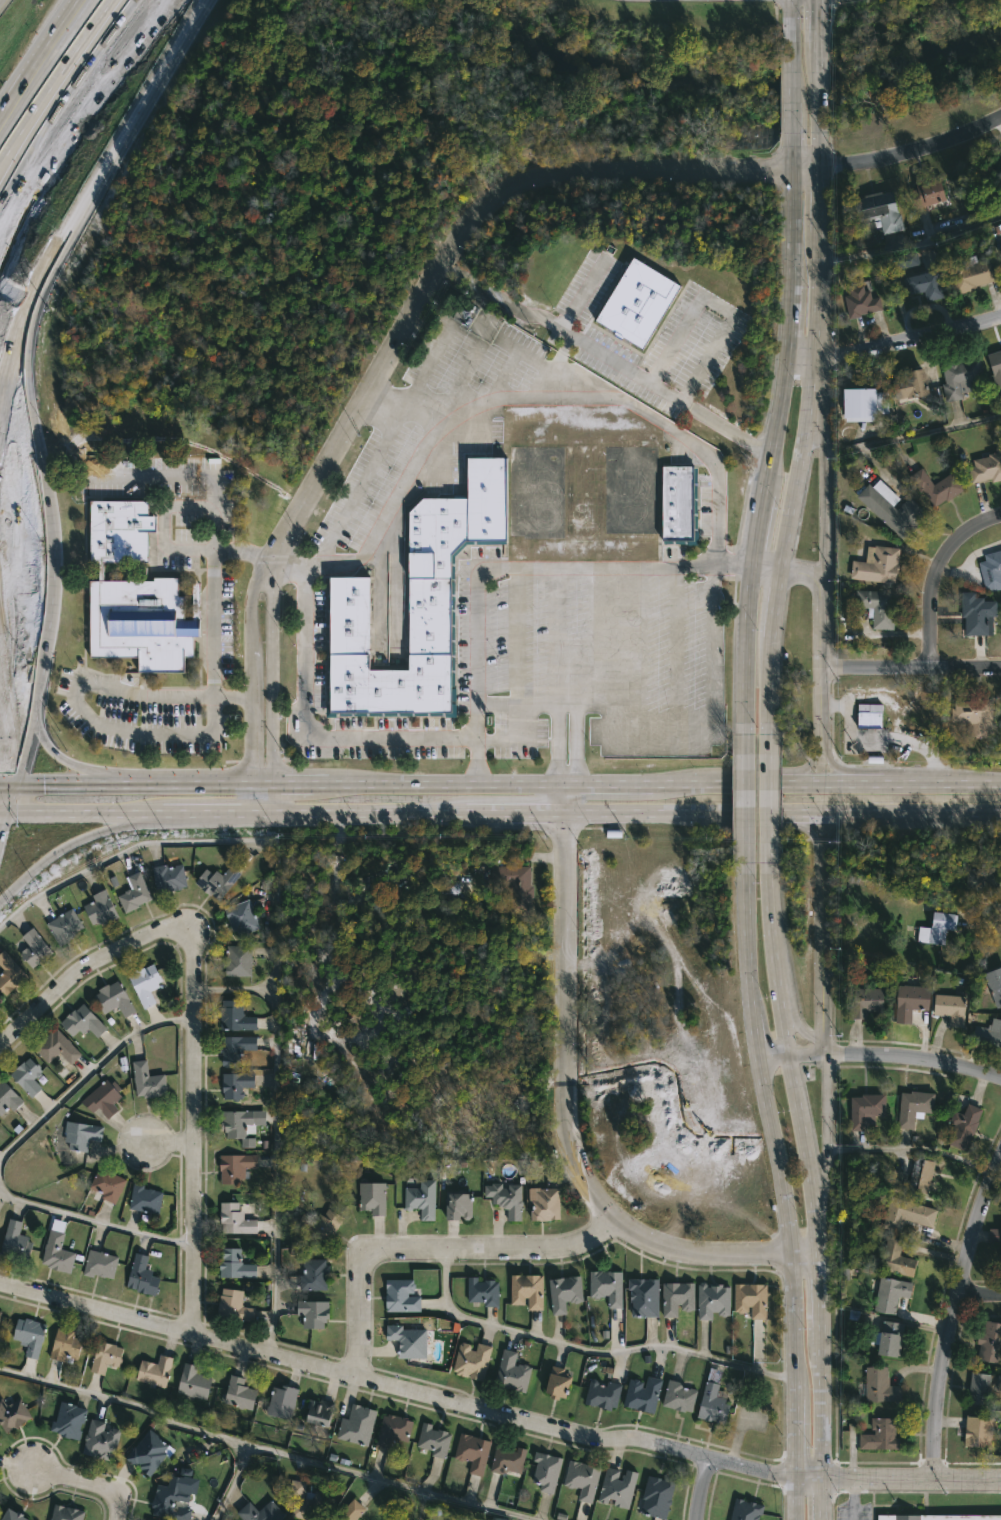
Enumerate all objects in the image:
road: (68, 7)
traffic signals: (817, 7)
road: (791, 20)
road: (817, 20)
road: (29, 53)
road: (53, 58)
road: (34, 62)
park: (911, 63)
road: (51, 77)
road: (792, 86)
road: (817, 86)
road: (76, 90)
road: (3, 117)
road: (793, 149)
road: (818, 149)
road: (912, 152)
road: (33, 161)
road: (805, 167)
road: (678, 170)
road: (2, 181)
building: (930, 193)
road: (94, 195)
road: (818, 199)
building: (881, 211)
road: (910, 242)
building: (1000, 247)
building: (975, 274)
building: (920, 277)
road: (580, 292)
building: (635, 301)
road: (719, 302)
building: (863, 302)
road: (394, 344)
road: (894, 345)
road: (606, 357)
building: (996, 368)
building: (961, 378)
building: (914, 384)
road: (552, 395)
road: (815, 401)
building: (867, 403)
road: (910, 436)
road: (772, 449)
building: (987, 468)
road: (174, 473)
road: (367, 478)
building: (938, 487)
road: (822, 493)
road: (716, 498)
building: (680, 504)
building: (892, 508)
road: (162, 544)
road: (765, 566)
building: (880, 566)
building: (992, 571)
road: (930, 572)
road: (805, 573)
building: (136, 596)
road: (776, 602)
building: (415, 607)
building: (879, 608)
building: (978, 614)
road: (620, 656)
road: (820, 664)
road: (910, 666)
road: (271, 672)
road: (771, 683)
road: (248, 684)
building: (976, 717)
building: (871, 721)
road: (99, 724)
road: (316, 736)
road: (5, 750)
road: (804, 766)
road: (838, 766)
road: (50, 767)
road: (135, 781)
traffic signals: (41, 782)
road: (567, 782)
road: (635, 783)
road: (743, 795)
road: (769, 795)
road: (271, 796)
road: (4, 798)
road: (935, 808)
road: (0, 810)
road: (810, 810)
road: (414, 811)
road: (486, 811)
road: (538, 811)
road: (659, 811)
road: (84, 812)
road: (207, 812)
road: (305, 812)
road: (795, 823)
road: (838, 827)
road: (75, 839)
road: (528, 849)
building: (169, 877)
building: (983, 877)
building: (218, 881)
building: (448, 883)
building: (512, 883)
building: (134, 887)
building: (100, 908)
building: (241, 917)
building: (64, 927)
building: (939, 927)
building: (34, 948)
road: (821, 955)
building: (238, 961)
road: (86, 969)
building: (10, 973)
building: (145, 983)
building: (995, 983)
building: (0, 998)
building: (114, 999)
building: (0, 1000)
building: (867, 1001)
building: (912, 1001)
building: (953, 1008)
building: (235, 1016)
road: (797, 1020)
building: (83, 1022)
building: (987, 1037)
building: (56, 1047)
building: (236, 1048)
road: (880, 1055)
road: (789, 1060)
road: (90, 1074)
building: (27, 1076)
building: (147, 1081)
building: (236, 1084)
building: (8, 1097)
building: (103, 1098)
building: (915, 1107)
building: (867, 1110)
road: (569, 1116)
building: (241, 1123)
building: (964, 1126)
road: (826, 1131)
road: (199, 1134)
building: (81, 1135)
road: (171, 1139)
building: (235, 1167)
building: (916, 1176)
building: (107, 1184)
road: (780, 1189)
building: (373, 1197)
building: (145, 1199)
building: (421, 1199)
building: (508, 1199)
building: (544, 1203)
building: (460, 1205)
building: (909, 1214)
building: (235, 1219)
road: (97, 1221)
building: (322, 1224)
building: (995, 1235)
building: (15, 1241)
road: (277, 1241)
road: (435, 1249)
building: (57, 1253)
building: (897, 1259)
building: (100, 1264)
building: (236, 1265)
building: (314, 1275)
building: (142, 1276)
building: (607, 1286)
building: (528, 1290)
building: (483, 1292)
building: (565, 1292)
building: (892, 1294)
road: (979, 1295)
building: (401, 1296)
building: (645, 1297)
building: (678, 1298)
building: (752, 1299)
building: (713, 1301)
road: (820, 1301)
building: (234, 1306)
building: (0, 1313)
building: (314, 1313)
road: (953, 1315)
building: (29, 1335)
building: (889, 1338)
building: (409, 1341)
building: (991, 1343)
building: (64, 1345)
road: (589, 1349)
building: (106, 1356)
building: (471, 1361)
building: (155, 1371)
building: (512, 1372)
building: (193, 1382)
building: (559, 1383)
building: (998, 1384)
building: (879, 1386)
building: (981, 1389)
building: (239, 1393)
building: (603, 1394)
building: (643, 1394)
building: (680, 1396)
building: (714, 1399)
building: (282, 1402)
building: (320, 1412)
road: (821, 1412)
building: (12, 1415)
road: (495, 1418)
building: (69, 1420)
building: (357, 1425)
building: (393, 1430)
building: (979, 1431)
building: (882, 1434)
building: (434, 1440)
building: (100, 1441)
road: (267, 1450)
building: (473, 1452)
building: (148, 1453)
building: (508, 1460)
building: (546, 1471)
building: (583, 1479)
road: (64, 1481)
building: (618, 1488)
road: (701, 1488)
building: (657, 1497)
road: (115, 1500)
building: (171, 1500)
road: (821, 1500)
road: (849, 1500)
building: (307, 1502)
road: (422, 1505)
building: (746, 1510)
building: (351, 1511)
building: (260, 1512)
building: (67, 1513)
building: (13, 1516)
building: (937, 1517)
building: (497, 1519)

